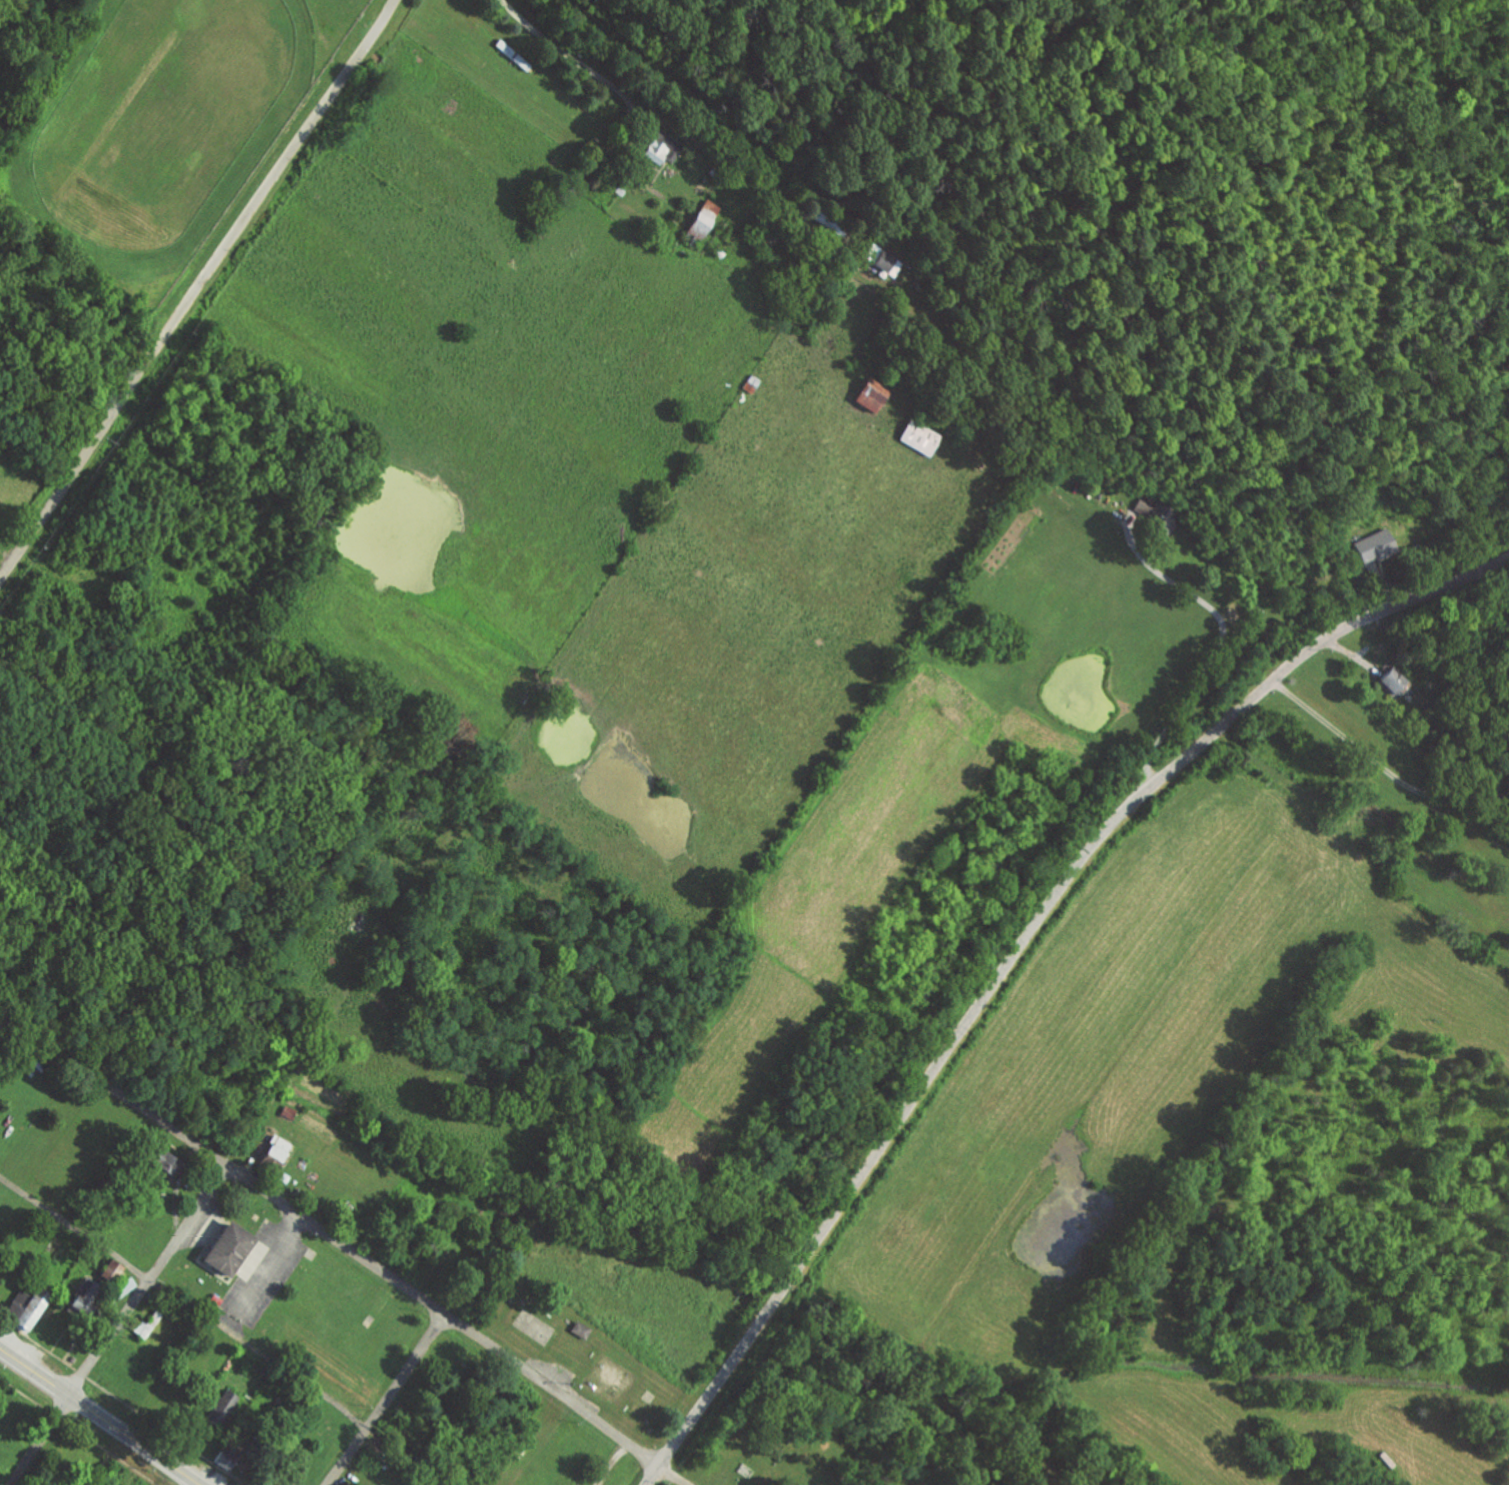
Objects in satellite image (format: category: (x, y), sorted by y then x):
building: (654, 149)
building: (702, 218)
building: (887, 261)
road: (196, 288)
road: (918, 304)
building: (869, 395)
building: (919, 437)
building: (1155, 512)
building: (1373, 545)
road: (1333, 636)
road: (1217, 652)
building: (1393, 681)
road: (1390, 762)
road: (1, 1023)
road: (905, 1111)
building: (273, 1149)
building: (161, 1160)
road: (202, 1229)
road: (346, 1247)
building: (227, 1248)
building: (107, 1271)
road: (266, 1276)
building: (122, 1286)
building: (82, 1293)
road: (183, 1302)
building: (23, 1312)
road: (116, 1326)
park: (535, 1328)
building: (580, 1330)
road: (386, 1402)
building: (220, 1409)
road: (99, 1416)
park: (767, 1444)
building: (220, 1461)

